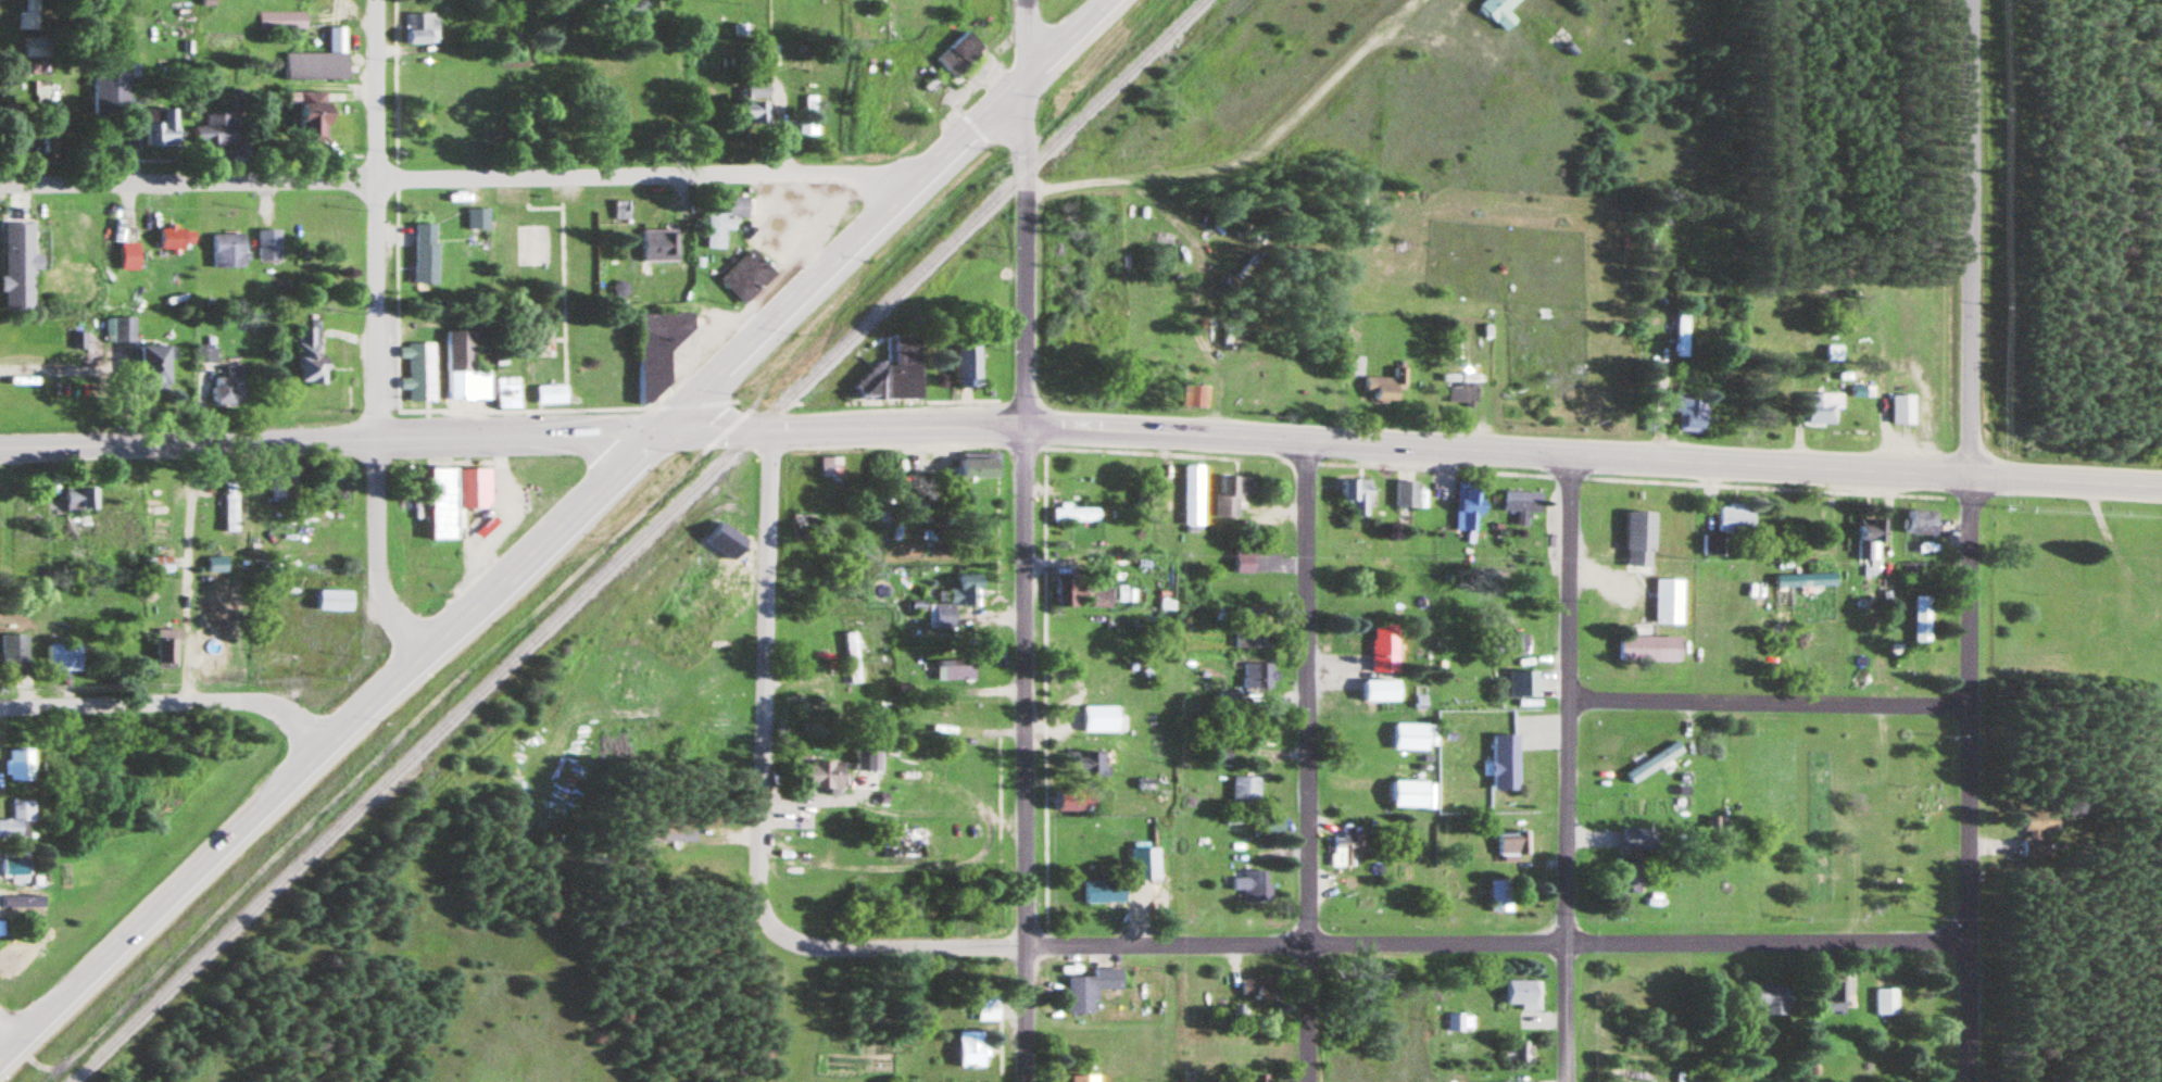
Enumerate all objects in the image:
building: (313, 0)
building: (641, 8)
building: (1496, 12)
building: (27, 16)
road: (1388, 16)
building: (280, 22)
building: (419, 28)
road: (1424, 36)
road: (1468, 42)
building: (958, 53)
road: (988, 58)
building: (318, 61)
building: (928, 81)
building: (40, 89)
building: (109, 95)
building: (751, 103)
building: (4, 114)
building: (312, 119)
road: (953, 124)
building: (160, 128)
building: (215, 131)
road: (1221, 165)
road: (453, 177)
parking lot: (535, 189)
road: (535, 210)
road: (1021, 214)
building: (476, 219)
building: (722, 222)
building: (174, 240)
park: (528, 246)
building: (266, 247)
building: (657, 247)
building: (226, 252)
building: (423, 255)
building: (745, 275)
road: (560, 291)
park: (556, 298)
building: (122, 328)
road: (374, 334)
building: (1680, 334)
building: (76, 339)
road: (556, 339)
building: (657, 348)
building: (204, 354)
building: (1832, 354)
building: (309, 357)
building: (967, 363)
road: (64, 364)
building: (153, 367)
building: (461, 367)
building: (416, 370)
building: (894, 372)
building: (1382, 388)
building: (227, 390)
building: (505, 392)
building: (549, 393)
building: (1193, 397)
road: (121, 403)
building: (1820, 408)
building: (1900, 408)
road: (328, 443)
road: (1409, 450)
building: (828, 467)
building: (977, 468)
building: (477, 486)
building: (342, 490)
building: (1231, 493)
building: (1191, 495)
building: (1404, 495)
building: (1355, 496)
building: (79, 499)
building: (894, 499)
building: (444, 501)
building: (1521, 505)
building: (1466, 507)
building: (229, 508)
building: (1073, 515)
building: (1919, 524)
building: (800, 527)
building: (1726, 528)
road: (552, 530)
railway: (634, 539)
building: (1638, 539)
building: (1866, 540)
road: (1966, 541)
road: (601, 542)
road: (2107, 551)
building: (1242, 562)
building: (158, 566)
building: (214, 566)
road: (183, 573)
building: (1802, 581)
building: (1088, 594)
building: (955, 601)
building: (332, 602)
building: (1667, 602)
building: (2104, 617)
building: (1921, 620)
building: (1248, 638)
building: (1514, 645)
building: (165, 649)
building: (214, 649)
building: (1383, 649)
building: (1647, 650)
building: (13, 654)
building: (64, 658)
building: (850, 658)
building: (279, 662)
building: (954, 671)
road: (762, 678)
building: (1257, 678)
building: (1521, 685)
building: (1381, 691)
road: (167, 702)
road: (1762, 702)
building: (1098, 720)
building: (1413, 738)
road: (1025, 755)
building: (1218, 755)
road: (1302, 763)
building: (1650, 763)
building: (18, 764)
building: (1504, 764)
building: (1093, 765)
road: (1561, 769)
building: (822, 777)
building: (1243, 790)
building: (1410, 794)
road: (1, 808)
building: (16, 817)
building: (1231, 819)
building: (674, 833)
building: (2035, 835)
building: (1636, 840)
building: (1507, 844)
building: (1343, 845)
building: (1247, 884)
building: (1102, 891)
building: (1498, 895)
building: (7, 904)
road: (1367, 945)
building: (1089, 989)
building: (1256, 989)
building: (1520, 993)
building: (1772, 999)
building: (1883, 1002)
building: (986, 1006)
building: (1453, 1022)
road: (5, 1039)
building: (971, 1049)
building: (1514, 1052)
building: (1259, 1078)
building: (1083, 1079)

